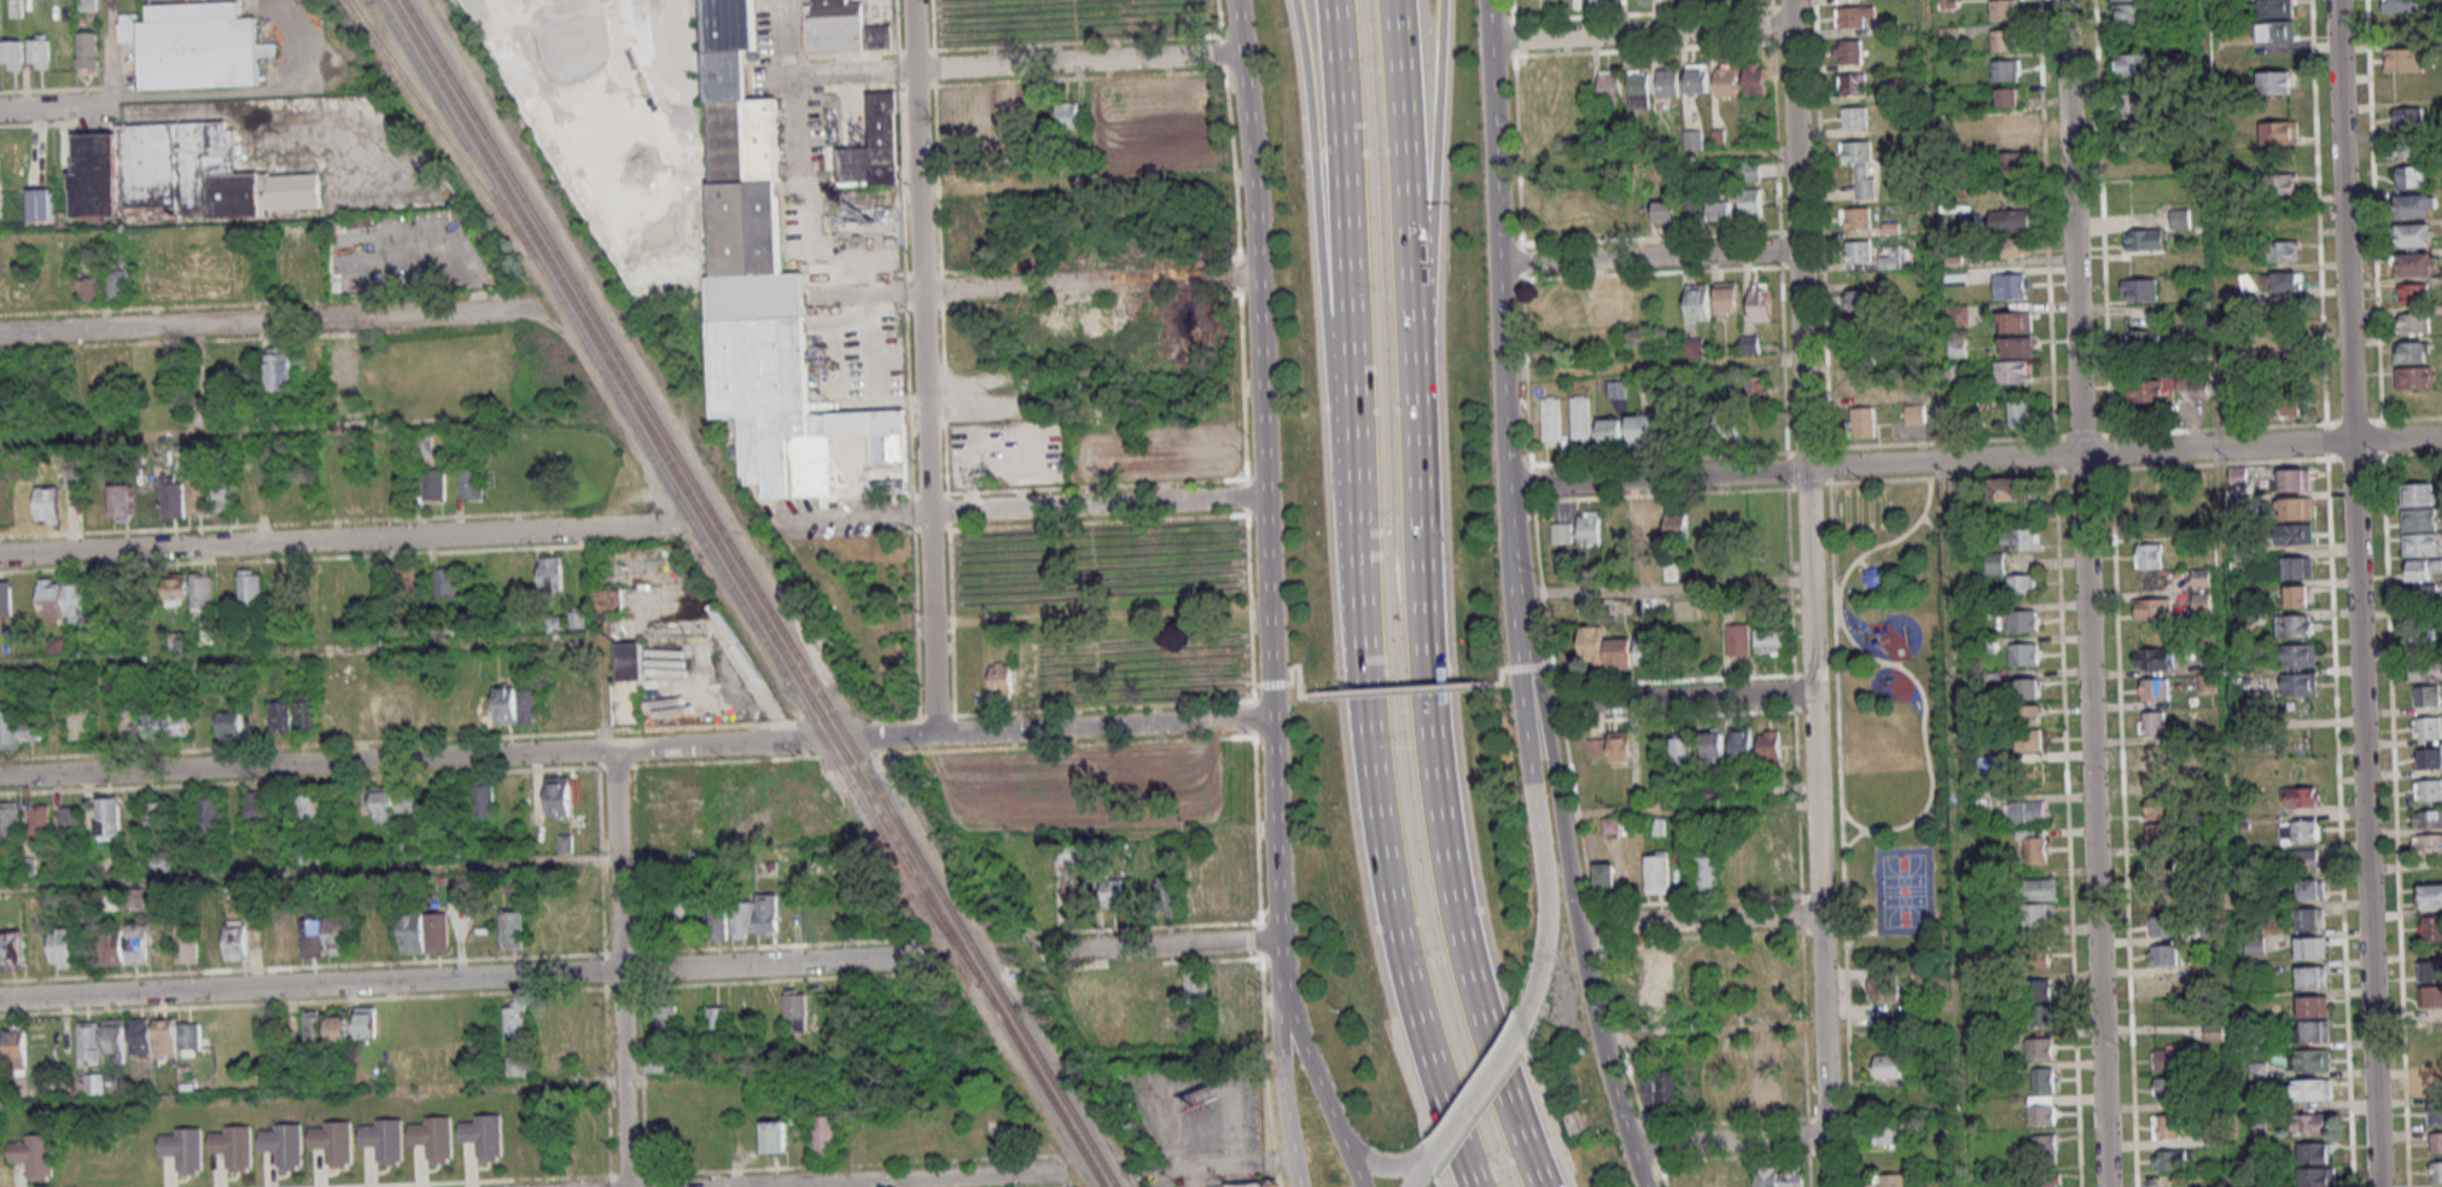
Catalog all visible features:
building: (2401, 5)
building: (2274, 7)
building: (2003, 10)
building: (2131, 12)
building: (1852, 16)
building: (834, 25)
building: (2277, 30)
road: (1640, 34)
building: (2003, 40)
building: (193, 45)
building: (37, 50)
building: (86, 50)
building: (1848, 51)
building: (11, 54)
building: (2405, 58)
road: (1077, 62)
building: (2134, 64)
building: (2006, 70)
road: (808, 72)
building: (1696, 78)
building: (1754, 78)
building: (1726, 80)
building: (1668, 82)
building: (2275, 82)
building: (1853, 83)
building: (1609, 85)
building: (1639, 88)
road: (241, 91)
building: (2006, 97)
road: (57, 106)
building: (2135, 106)
building: (1067, 115)
building: (1854, 116)
building: (2407, 117)
railway: (438, 124)
building: (2009, 130)
building: (2279, 133)
road: (2207, 135)
building: (2135, 139)
building: (873, 146)
building: (2403, 146)
road: (1645, 158)
building: (1859, 165)
building: (2011, 165)
road: (1317, 169)
building: (1749, 171)
building: (179, 175)
building: (2411, 175)
road: (1403, 179)
road: (1427, 180)
building: (2281, 184)
building: (0, 198)
building: (1750, 202)
building: (40, 204)
building: (2417, 204)
building: (1695, 205)
building: (1720, 209)
building: (1666, 211)
building: (1634, 214)
building: (1855, 217)
building: (2180, 219)
building: (2011, 221)
building: (2414, 234)
building: (2146, 239)
building: (2016, 248)
road: (1498, 251)
building: (1859, 251)
building: (2283, 251)
road: (1649, 257)
building: (1953, 262)
building: (2413, 263)
building: (2286, 283)
building: (91, 284)
building: (117, 284)
road: (1089, 284)
building: (2010, 285)
building: (2140, 290)
building: (2413, 293)
building: (776, 296)
building: (1727, 297)
building: (1855, 299)
building: (1697, 302)
building: (1760, 302)
building: (1610, 306)
road: (269, 318)
building: (2015, 321)
building: (2413, 322)
building: (1854, 326)
building: (2145, 339)
building: (1694, 347)
building: (2015, 347)
building: (2411, 351)
building: (2281, 360)
building: (351, 366)
road: (922, 366)
road: (1344, 366)
building: (279, 368)
road: (1654, 370)
building: (2013, 372)
building: (2413, 377)
building: (1864, 383)
building: (1758, 385)
building: (2146, 390)
building: (2281, 403)
building: (2020, 413)
building: (1914, 414)
building: (1580, 417)
building: (1551, 418)
building: (1863, 421)
building: (1727, 426)
road: (247, 427)
building: (1610, 430)
building: (1643, 430)
road: (1975, 459)
road: (1264, 471)
building: (2238, 473)
building: (2291, 479)
building: (471, 482)
building: (433, 484)
building: (2007, 488)
building: (197, 494)
building: (2419, 494)
building: (174, 495)
railway: (677, 498)
building: (223, 500)
building: (123, 502)
building: (47, 504)
building: (2295, 507)
road: (1020, 508)
building: (1677, 524)
building: (1647, 525)
building: (1589, 529)
building: (1618, 533)
building: (1562, 534)
building: (2297, 534)
road: (338, 539)
building: (2020, 539)
road: (2225, 553)
building: (2147, 555)
building: (1993, 563)
building: (2239, 564)
building: (2297, 566)
building: (2421, 569)
road: (1515, 572)
building: (550, 574)
building: (2201, 577)
building: (408, 578)
building: (445, 582)
building: (2022, 584)
building: (250, 587)
road: (1663, 587)
building: (177, 588)
building: (203, 590)
railway: (752, 593)
road: (1809, 593)
road: (1943, 593)
road: (2085, 593)
road: (2356, 593)
railway: (762, 594)
building: (2424, 594)
building: (2297, 595)
building: (6, 598)
building: (51, 599)
building: (608, 600)
building: (77, 601)
building: (2201, 603)
building: (2152, 609)
building: (578, 617)
building: (2023, 621)
building: (555, 623)
building: (2294, 625)
building: (2423, 632)
building: (1738, 640)
building: (1770, 640)
road: (355, 646)
building: (1603, 648)
building: (1645, 650)
building: (2023, 653)
building: (2300, 654)
building: (2152, 657)
road: (1290, 668)
road: (1506, 668)
building: (2428, 671)
building: (1001, 680)
building: (1030, 680)
building: (2207, 682)
building: (2300, 683)
building: (626, 685)
road: (1399, 688)
building: (2028, 688)
building: (2153, 688)
building: (2426, 696)
road: (1672, 702)
building: (581, 703)
building: (505, 704)
building: (530, 705)
road: (1531, 711)
building: (305, 712)
building: (281, 714)
building: (2029, 715)
building: (180, 720)
building: (129, 721)
building: (229, 722)
building: (80, 723)
building: (155, 723)
building: (2151, 723)
park: (1892, 725)
building: (2428, 727)
building: (8, 728)
building: (30, 729)
road: (943, 733)
building: (2029, 739)
building: (1742, 743)
building: (1713, 744)
building: (1770, 744)
building: (1620, 746)
building: (1596, 749)
building: (1684, 749)
building: (2160, 757)
building: (2429, 758)
road: (308, 764)
road: (1433, 780)
building: (2428, 790)
building: (556, 796)
building: (2302, 796)
building: (483, 798)
building: (392, 802)
building: (258, 807)
building: (2160, 808)
building: (308, 809)
road: (1684, 809)
building: (2024, 811)
building: (210, 813)
building: (158, 814)
building: (10, 819)
building: (109, 819)
building: (2428, 819)
building: (39, 824)
building: (70, 825)
building: (2300, 831)
building: (2164, 833)
building: (2033, 844)
building: (2426, 845)
road: (1560, 853)
building: (1019, 859)
building: (2301, 859)
building: (2162, 867)
building: (1783, 869)
building: (1707, 871)
building: (1657, 872)
road: (309, 874)
building: (1605, 874)
building: (513, 881)
building: (2310, 889)
building: (1112, 891)
building: (1166, 894)
building: (1191, 894)
building: (1241, 894)
building: (1074, 896)
building: (1217, 896)
building: (2430, 896)
building: (2163, 897)
building: (1039, 901)
building: (2040, 902)
road: (1541, 907)
building: (767, 913)
building: (2309, 918)
building: (686, 919)
building: (741, 920)
road: (1698, 920)
building: (717, 921)
building: (2162, 925)
building: (2431, 927)
building: (511, 929)
building: (422, 930)
building: (235, 939)
building: (313, 939)
building: (2254, 944)
building: (113, 945)
building: (60, 947)
building: (187, 947)
building: (2310, 947)
building: (136, 948)
road: (1144, 948)
building: (12, 950)
building: (2162, 954)
building: (2038, 955)
road: (782, 961)
road: (1401, 964)
road: (620, 967)
building: (1661, 971)
road: (2237, 973)
building: (2312, 976)
building: (2431, 982)
building: (1193, 983)
building: (1245, 983)
building: (2167, 984)
building: (1220, 987)
road: (310, 988)
building: (1167, 989)
building: (1883, 989)
building: (2038, 989)
building: (1084, 993)
building: (2313, 1006)
building: (795, 1007)
building: (744, 1011)
building: (2038, 1014)
building: (716, 1020)
building: (366, 1022)
building: (664, 1022)
building: (514, 1024)
building: (326, 1026)
road: (1710, 1028)
building: (2312, 1031)
building: (2213, 1032)
building: (190, 1037)
building: (101, 1040)
road: (1301, 1040)
building: (16, 1046)
building: (2040, 1047)
road: (1604, 1058)
building: (2169, 1058)
building: (2309, 1060)
building: (519, 1065)
road: (1282, 1065)
building: (1889, 1065)
building: (2042, 1078)
building: (2432, 1083)
road: (416, 1087)
building: (1659, 1088)
building: (2169, 1089)
building: (2310, 1089)
building: (1765, 1090)
building: (1714, 1095)
road: (1473, 1100)
building: (2041, 1110)
building: (2435, 1111)
building: (2309, 1123)
building: (2166, 1127)
building: (1888, 1134)
building: (823, 1135)
building: (483, 1136)
building: (774, 1136)
building: (432, 1137)
building: (383, 1140)
road: (1729, 1141)
building: (332, 1142)
building: (2436, 1142)
building: (282, 1145)
building: (232, 1146)
building: (2045, 1146)
building: (183, 1148)
road: (1433, 1148)
building: (2314, 1152)
building: (34, 1156)
road: (1347, 1160)
building: (2170, 1160)
road: (1220, 1163)
road: (1376, 1163)
building: (95, 1168)
building: (2436, 1171)
road: (1417, 1176)
building: (1743, 1176)
building: (1768, 1176)
building: (1719, 1177)
building: (1793, 1177)
building: (2315, 1177)
road: (919, 1180)
building: (1890, 1180)
building: (2047, 1180)
building: (2170, 1181)
building: (1239, 1185)

